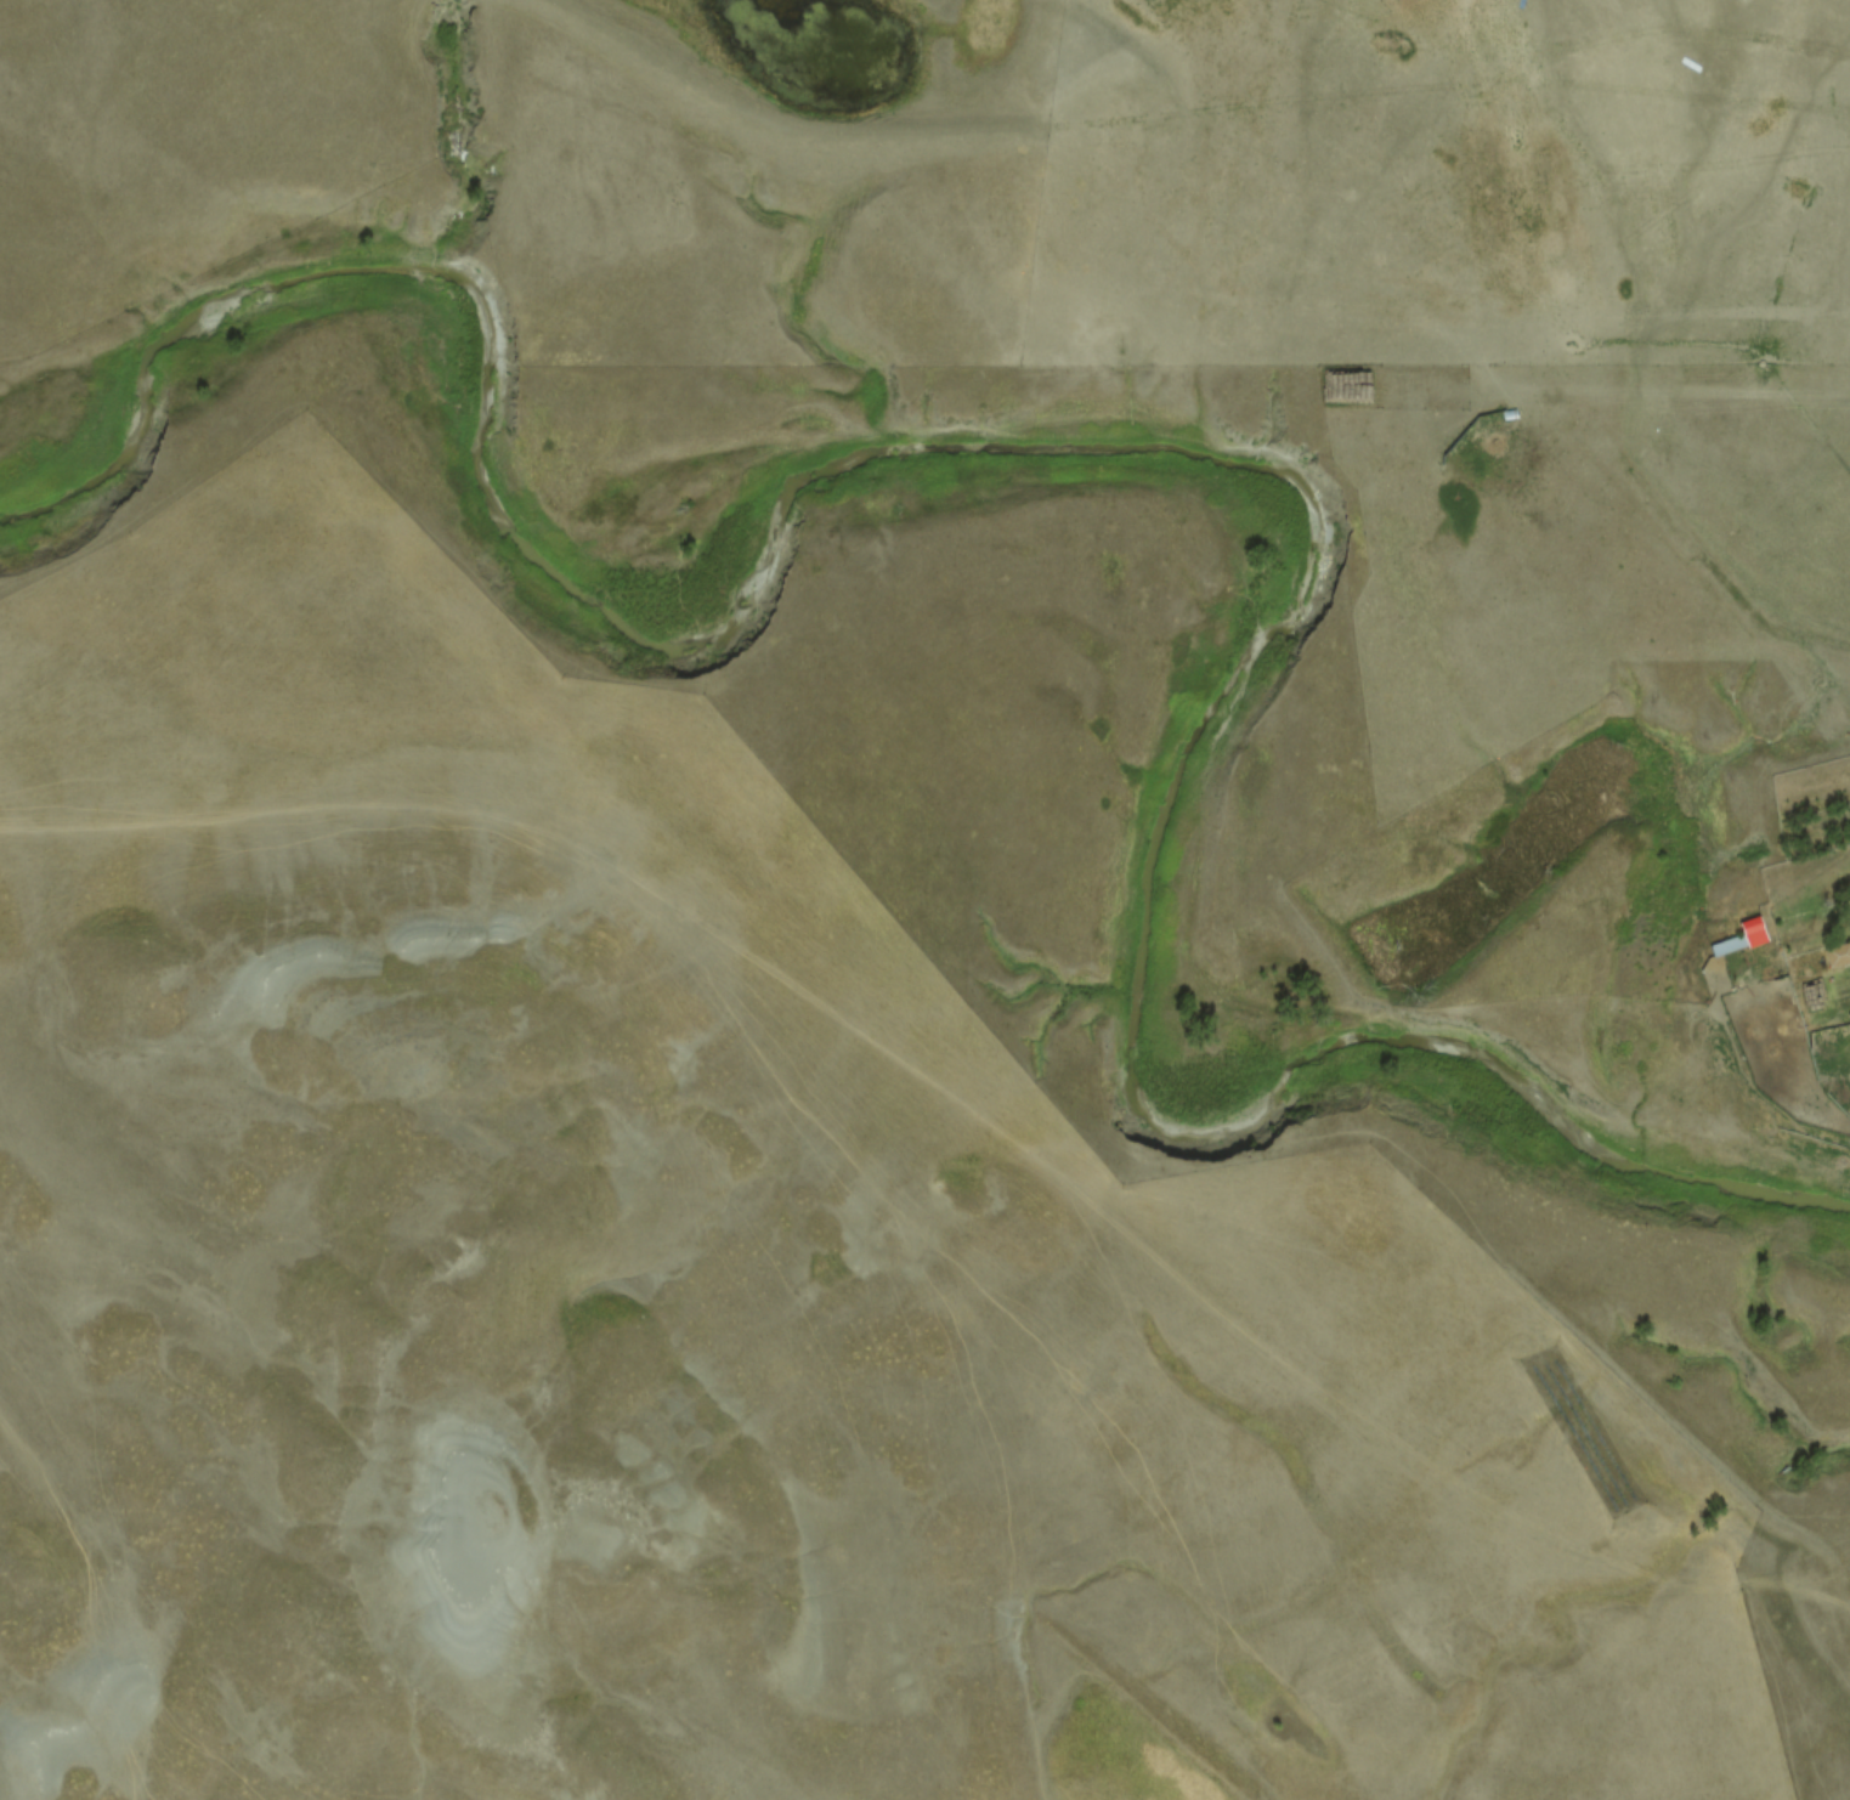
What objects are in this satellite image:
building: (1722, 946)
building: (1834, 956)

